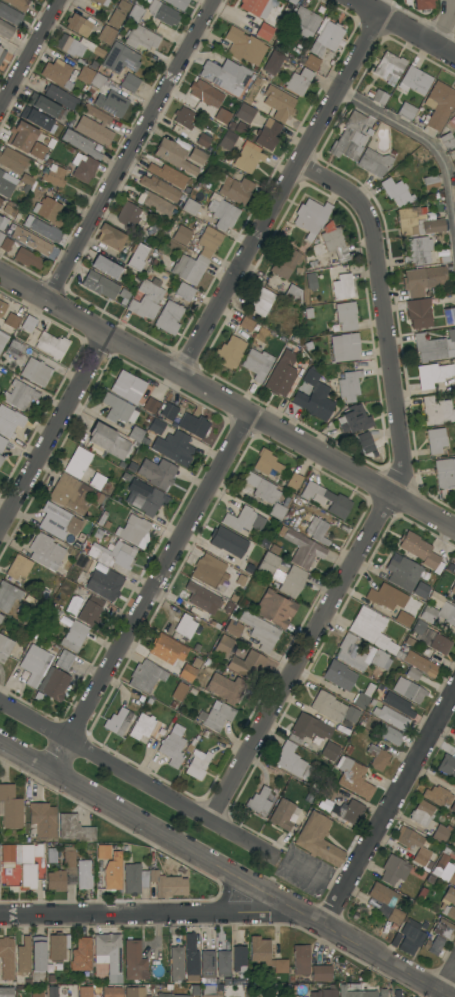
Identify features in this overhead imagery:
building: (100, 2)
building: (177, 3)
building: (17, 4)
building: (422, 4)
building: (135, 12)
building: (162, 13)
building: (118, 14)
building: (10, 15)
building: (260, 20)
building: (305, 22)
road: (445, 22)
building: (78, 25)
road: (406, 27)
building: (5, 30)
building: (105, 36)
building: (326, 38)
building: (141, 39)
building: (77, 46)
building: (244, 47)
road: (29, 52)
building: (1, 54)
building: (120, 59)
building: (309, 61)
building: (272, 63)
building: (389, 66)
building: (58, 74)
building: (84, 74)
building: (224, 76)
building: (414, 80)
building: (97, 81)
building: (299, 81)
building: (130, 82)
building: (199, 90)
building: (377, 96)
building: (59, 97)
building: (278, 103)
building: (110, 104)
building: (438, 105)
building: (44, 106)
building: (406, 111)
building: (244, 113)
building: (222, 116)
building: (454, 116)
building: (183, 118)
building: (36, 119)
building: (94, 125)
building: (265, 135)
building: (21, 136)
building: (348, 137)
building: (227, 139)
building: (203, 140)
building: (447, 141)
building: (80, 143)
road: (429, 145)
road: (129, 149)
building: (38, 151)
building: (174, 155)
building: (197, 156)
building: (247, 159)
building: (13, 160)
building: (373, 162)
building: (83, 167)
building: (169, 175)
building: (54, 176)
building: (26, 182)
building: (430, 182)
building: (6, 184)
building: (159, 188)
building: (234, 189)
building: (395, 192)
road: (279, 194)
building: (0, 200)
building: (155, 203)
building: (190, 207)
building: (9, 209)
building: (46, 209)
building: (221, 212)
building: (128, 215)
building: (311, 216)
building: (2, 222)
building: (419, 222)
building: (44, 230)
building: (1, 236)
building: (110, 237)
building: (199, 237)
building: (31, 241)
building: (335, 243)
building: (4, 244)
building: (418, 251)
building: (137, 256)
building: (27, 258)
building: (285, 262)
building: (106, 267)
building: (189, 268)
building: (423, 280)
building: (99, 285)
building: (342, 287)
building: (285, 289)
building: (184, 291)
building: (147, 299)
building: (260, 304)
building: (2, 306)
building: (422, 310)
building: (449, 315)
building: (346, 316)
building: (168, 318)
building: (11, 320)
building: (288, 322)
building: (246, 323)
building: (28, 324)
building: (451, 335)
building: (3, 340)
building: (51, 345)
building: (347, 346)
building: (432, 348)
building: (15, 349)
building: (229, 353)
building: (257, 364)
building: (36, 372)
building: (433, 374)
building: (282, 375)
building: (454, 376)
building: (347, 385)
building: (127, 386)
building: (20, 393)
building: (315, 397)
road: (226, 401)
building: (150, 405)
building: (118, 409)
building: (437, 411)
building: (167, 412)
building: (353, 419)
building: (9, 422)
building: (156, 426)
building: (194, 426)
road: (52, 429)
building: (135, 434)
building: (364, 439)
building: (435, 440)
building: (105, 441)
building: (2, 443)
building: (173, 447)
building: (1, 459)
building: (77, 462)
building: (266, 463)
building: (444, 473)
building: (162, 475)
building: (97, 481)
building: (293, 481)
building: (70, 494)
road: (390, 494)
building: (267, 495)
building: (146, 498)
building: (327, 499)
building: (243, 520)
building: (57, 521)
building: (316, 529)
building: (133, 531)
building: (228, 542)
building: (416, 546)
building: (297, 548)
building: (47, 553)
building: (114, 557)
building: (268, 564)
building: (18, 567)
building: (209, 571)
building: (402, 572)
building: (290, 581)
building: (104, 584)
building: (421, 590)
road: (149, 591)
building: (453, 592)
building: (8, 595)
building: (386, 597)
building: (201, 598)
building: (275, 609)
building: (91, 610)
building: (52, 612)
building: (439, 613)
building: (403, 619)
building: (180, 626)
building: (233, 628)
building: (371, 629)
building: (260, 631)
building: (73, 636)
building: (433, 640)
building: (222, 646)
building: (4, 648)
building: (166, 649)
building: (350, 653)
building: (378, 658)
building: (63, 660)
building: (418, 663)
building: (248, 665)
building: (210, 666)
building: (43, 672)
building: (187, 673)
building: (412, 673)
building: (146, 676)
building: (339, 676)
building: (225, 690)
building: (409, 690)
building: (179, 691)
building: (363, 697)
building: (397, 704)
building: (327, 706)
building: (351, 714)
building: (216, 717)
building: (391, 718)
building: (119, 721)
building: (142, 727)
building: (307, 729)
building: (389, 735)
building: (454, 743)
building: (172, 746)
building: (329, 751)
building: (377, 758)
building: (291, 761)
building: (197, 764)
building: (447, 766)
building: (353, 778)
road: (137, 779)
building: (328, 790)
building: (343, 796)
building: (438, 796)
building: (454, 798)
building: (454, 800)
building: (259, 802)
road: (387, 805)
building: (10, 807)
building: (452, 807)
building: (348, 812)
building: (421, 813)
building: (285, 815)
building: (41, 820)
building: (74, 828)
building: (454, 831)
building: (440, 834)
building: (407, 838)
building: (318, 840)
building: (103, 852)
building: (8, 853)
building: (51, 855)
building: (422, 859)
building: (443, 859)
building: (29, 866)
road: (224, 870)
building: (393, 870)
building: (63, 872)
building: (113, 873)
building: (83, 875)
road: (313, 875)
building: (452, 877)
building: (155, 880)
building: (429, 884)
building: (421, 893)
building: (448, 897)
building: (386, 902)
road: (141, 910)
building: (449, 912)
road: (6, 913)
building: (442, 929)
building: (411, 936)
building: (394, 940)
building: (434, 945)
building: (57, 947)
building: (37, 953)
building: (81, 955)
building: (265, 955)
building: (23, 956)
building: (108, 956)
building: (191, 956)
building: (6, 959)
building: (238, 959)
building: (301, 960)
building: (134, 962)
building: (223, 963)
building: (176, 964)
building: (207, 966)
building: (321, 974)
road: (448, 980)
building: (86, 991)
building: (209, 991)
building: (360, 991)
building: (6, 992)
building: (52, 992)
building: (111, 992)
building: (134, 992)
building: (324, 993)
building: (37, 995)
building: (169, 995)

